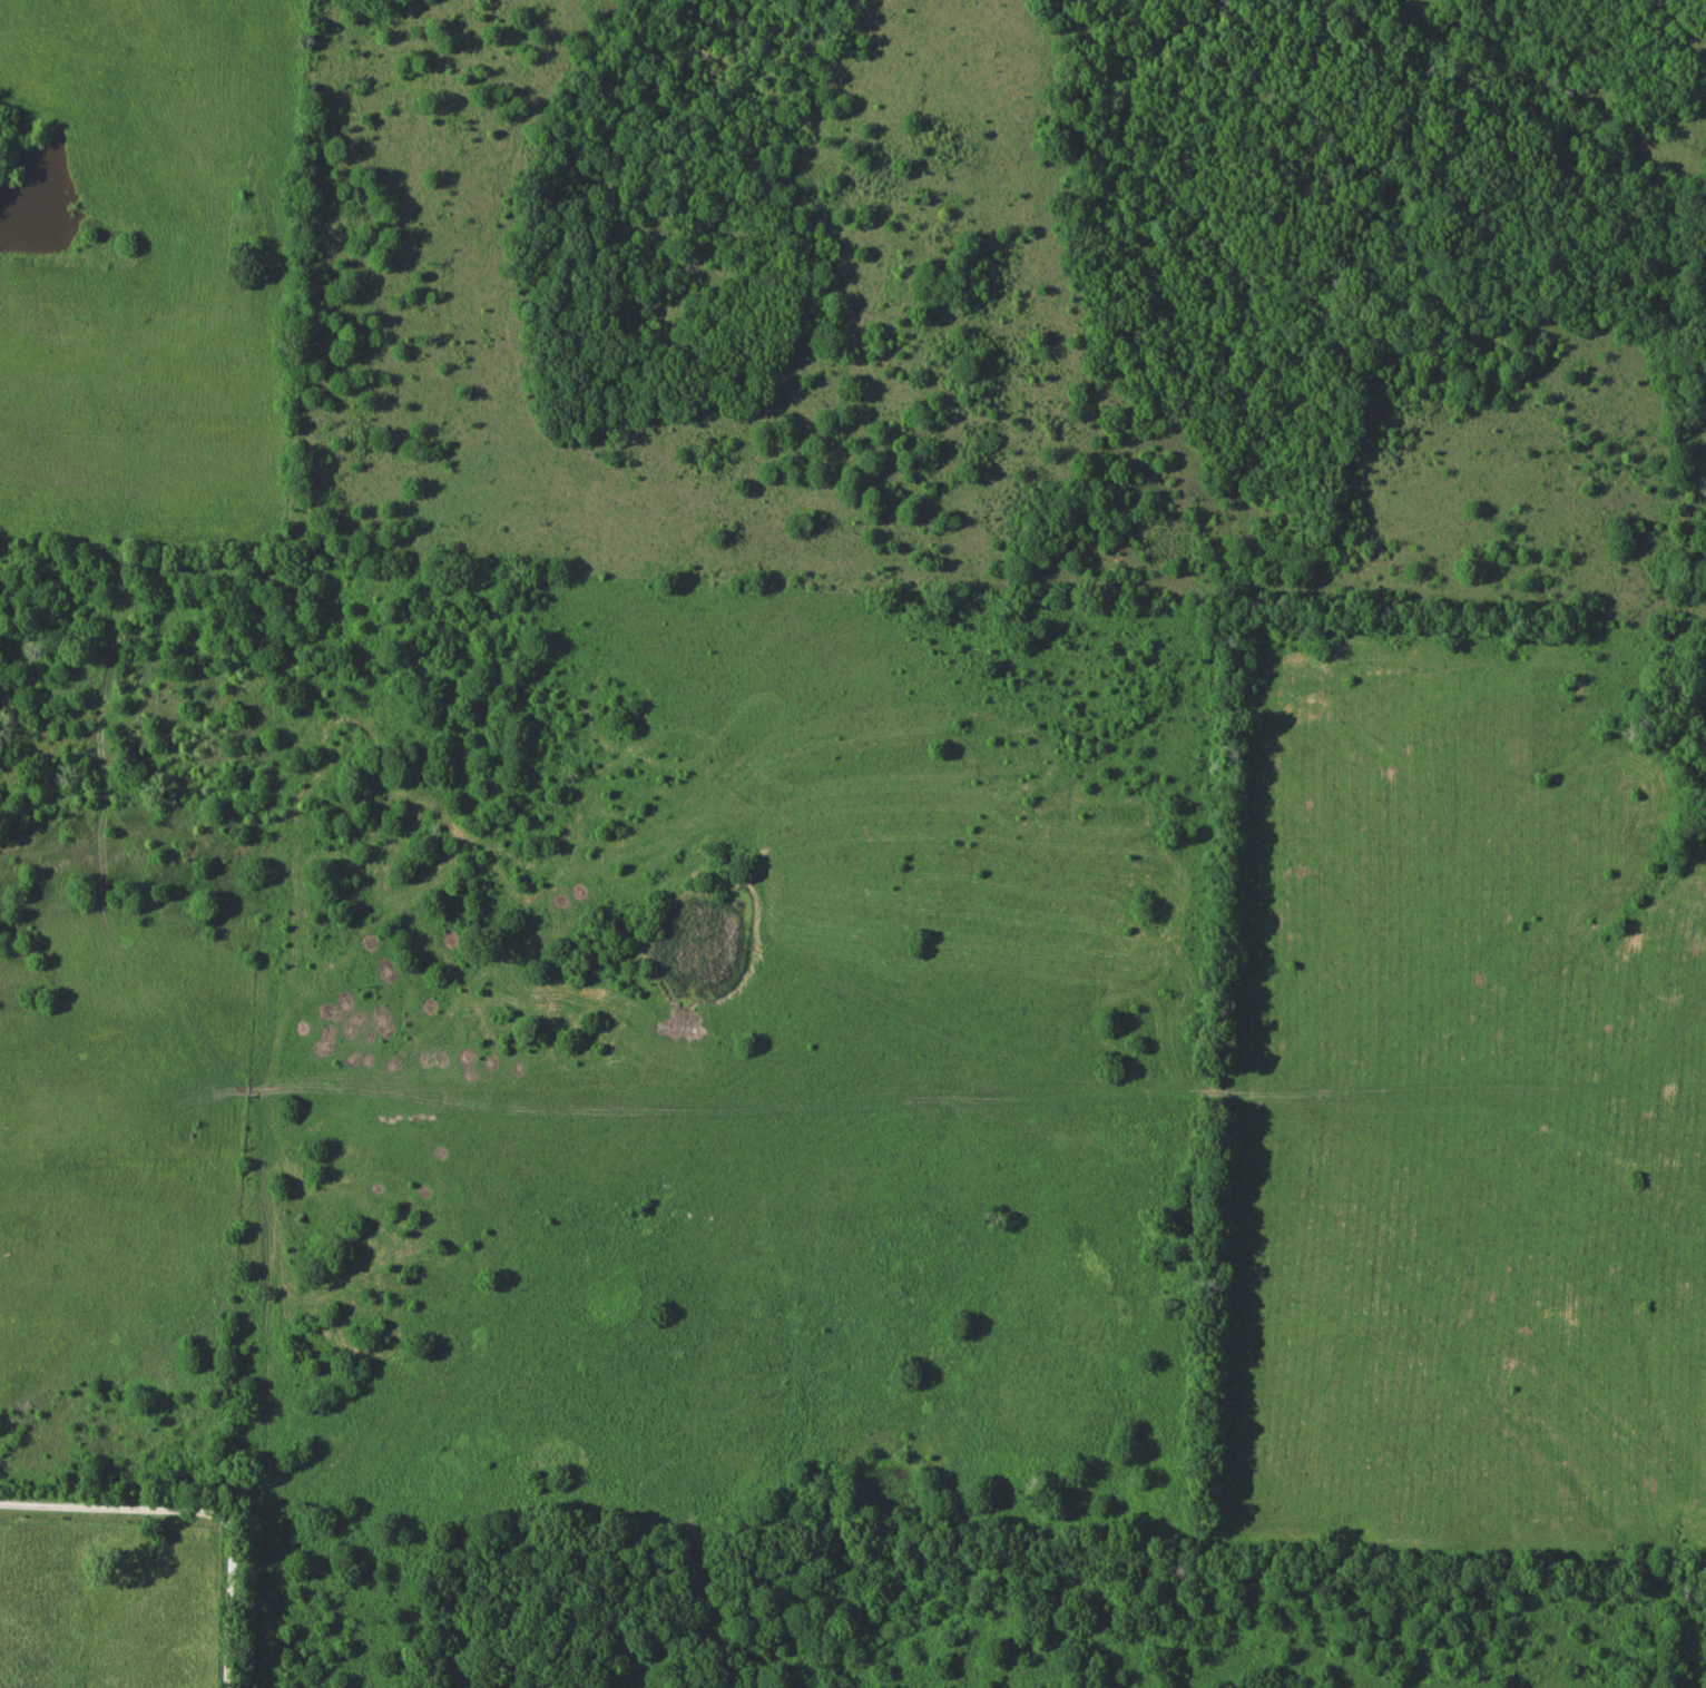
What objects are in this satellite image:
road: (110, 1517)
road: (226, 1606)

